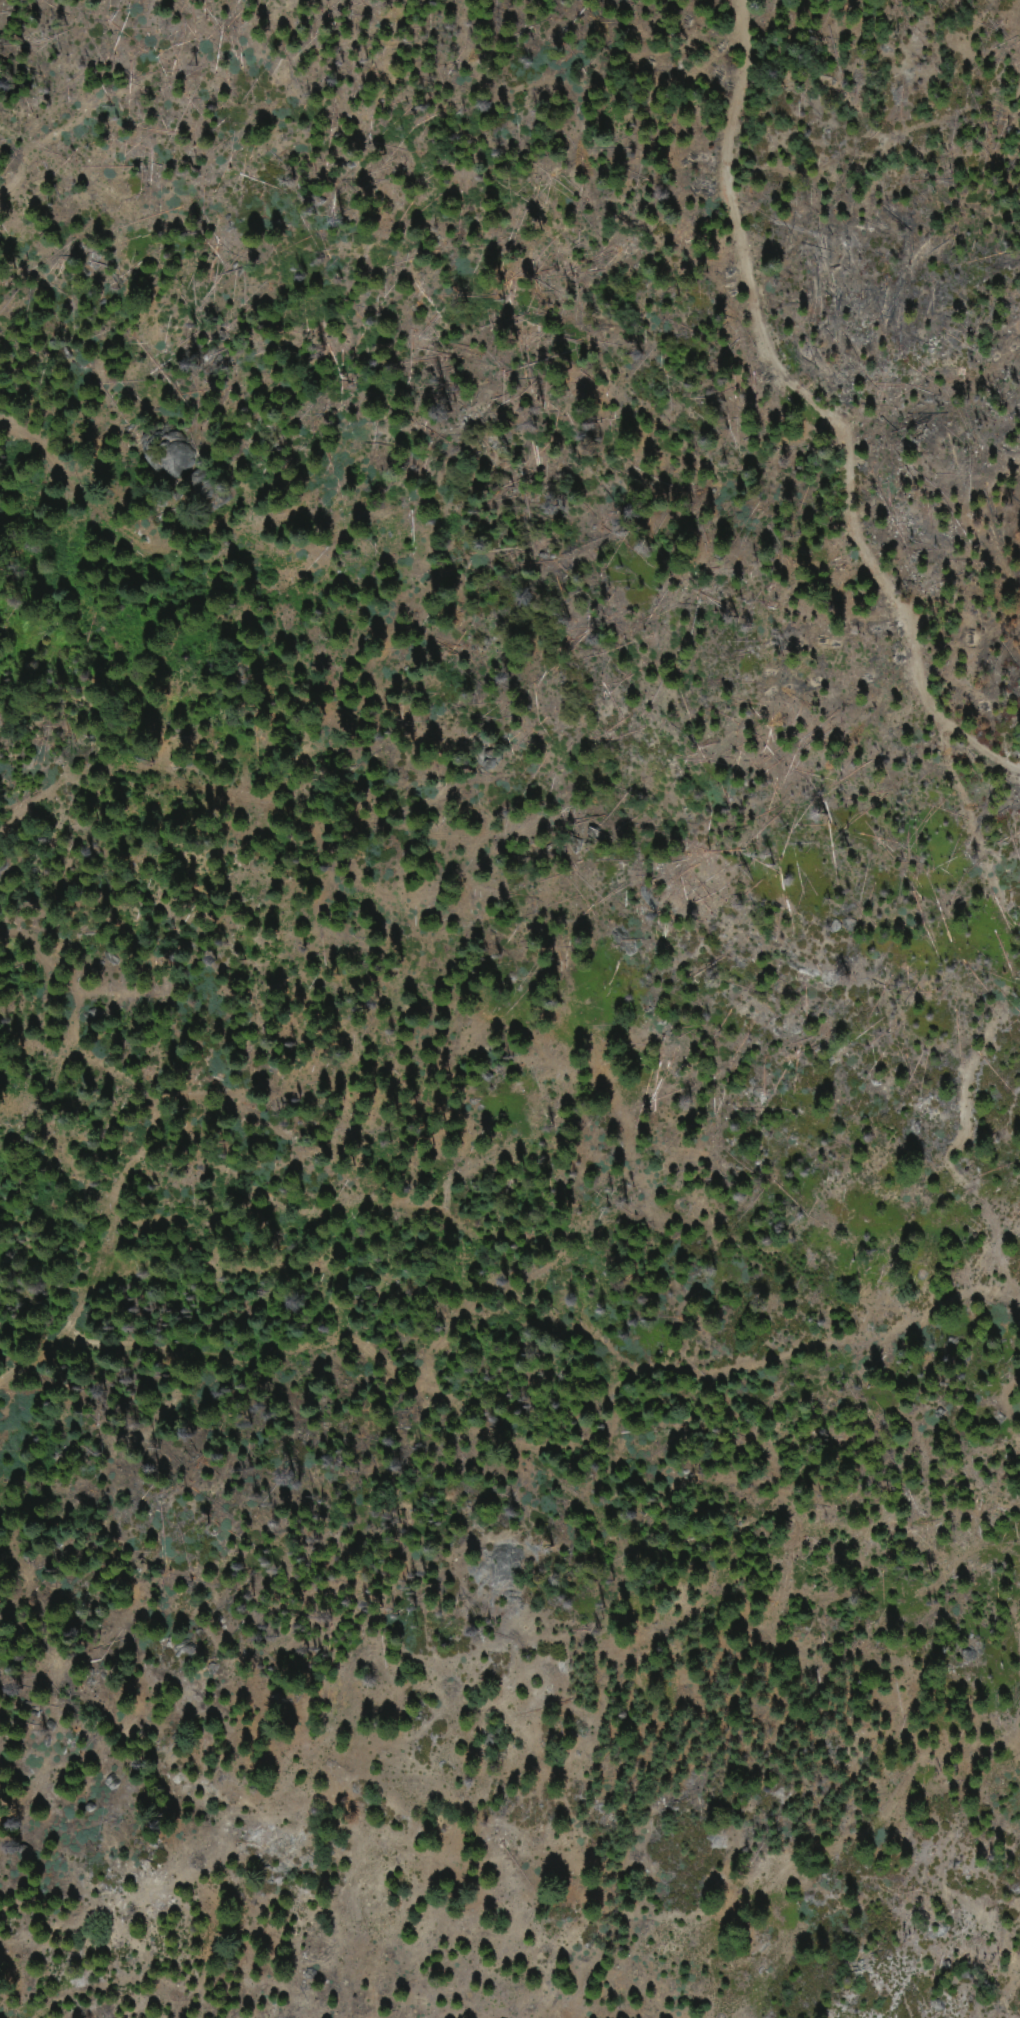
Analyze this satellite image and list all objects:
road: (817, 408)

